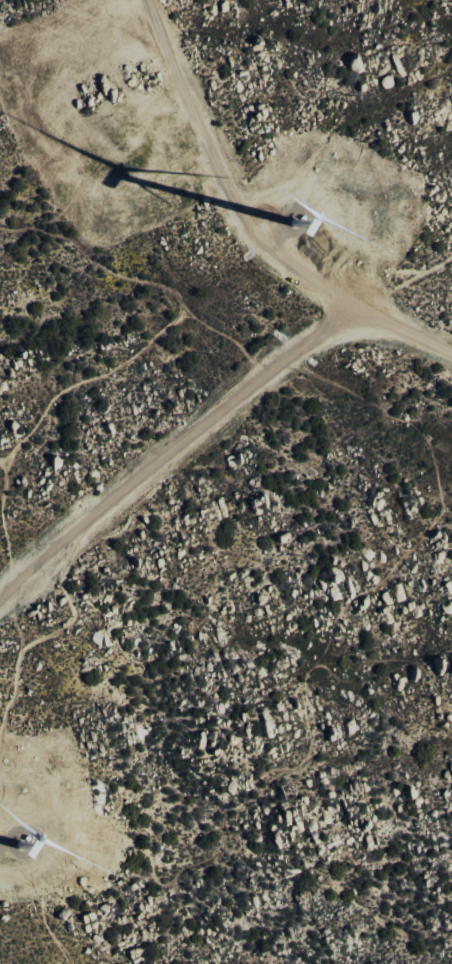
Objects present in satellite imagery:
building: (354, 63)
wind turbine: (308, 217)
road: (250, 221)
road: (136, 294)
road: (173, 452)
road: (44, 642)
wind turbine: (20, 853)

